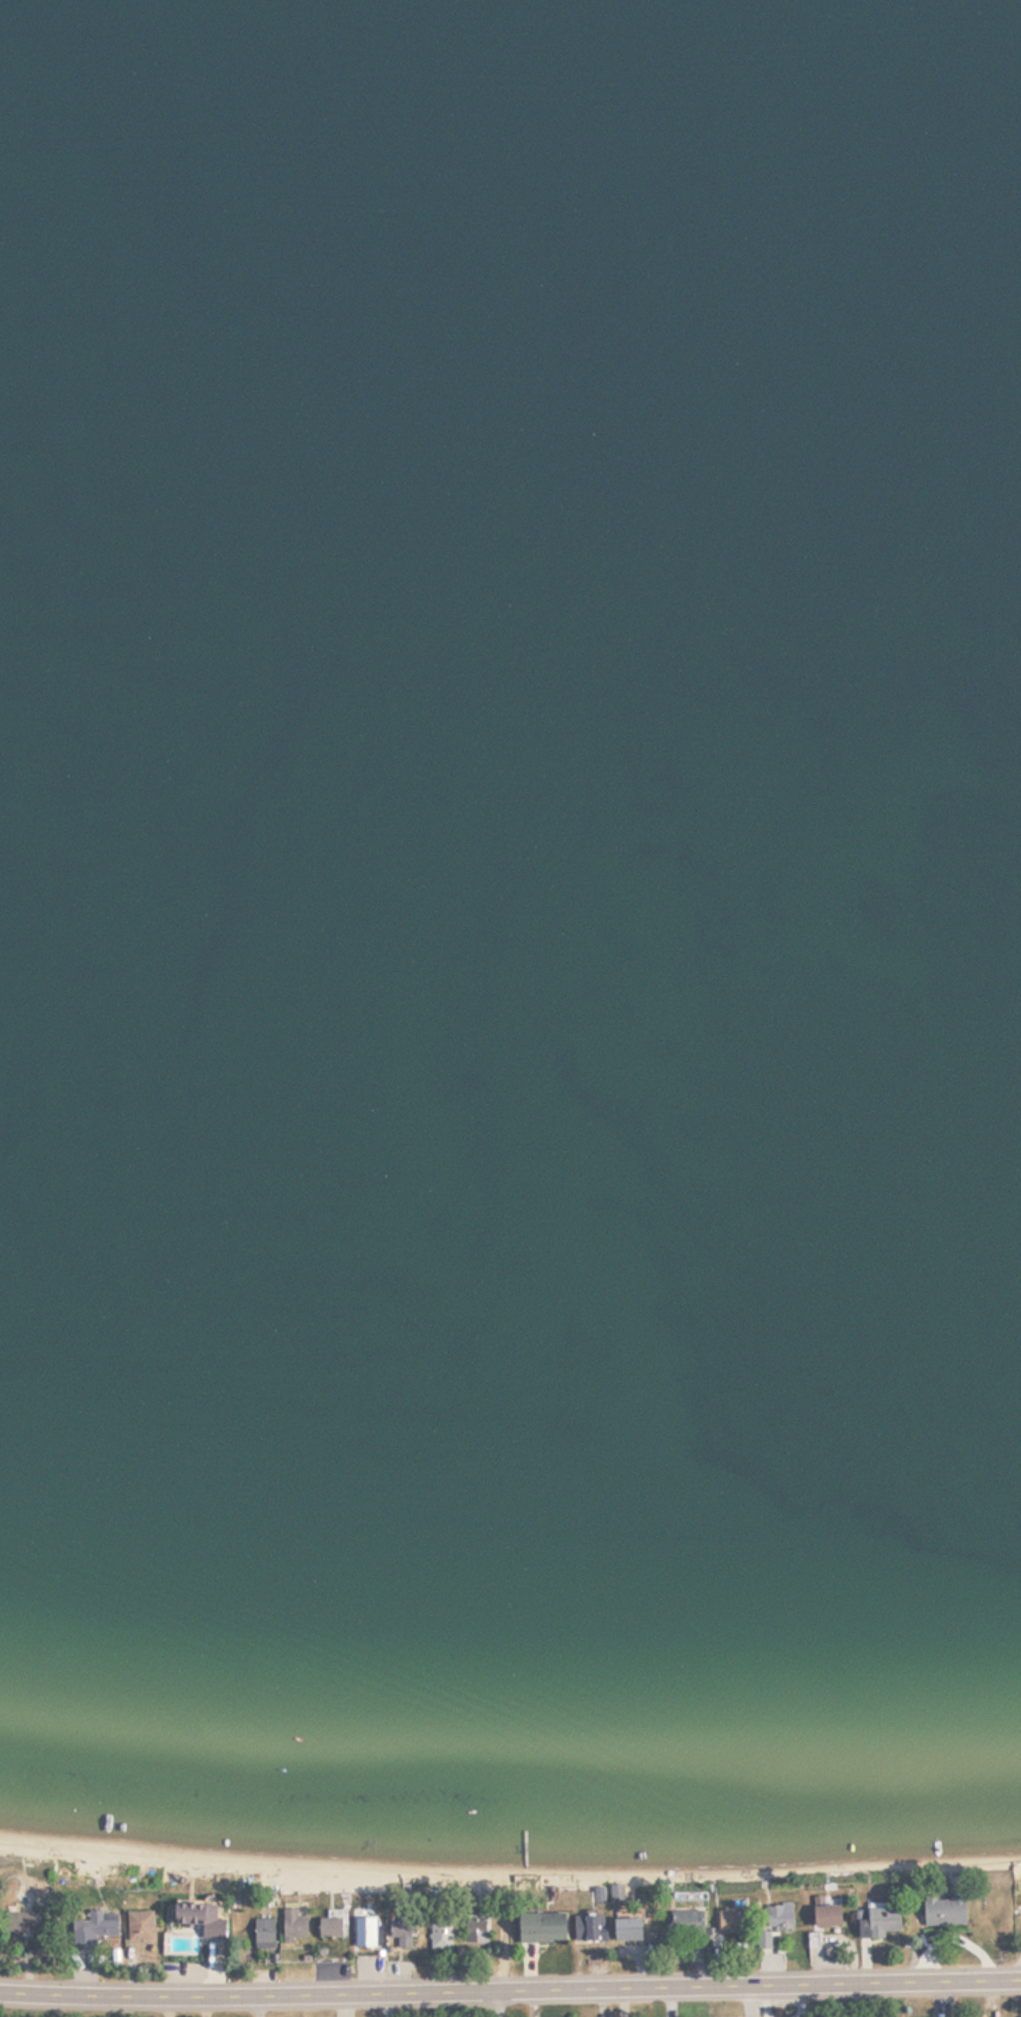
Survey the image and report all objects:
building: (942, 1912)
building: (825, 1916)
building: (778, 1917)
building: (197, 1919)
building: (24, 1922)
building: (878, 1922)
building: (731, 1923)
building: (687, 1924)
building: (140, 1925)
building: (293, 1927)
building: (331, 1927)
building: (539, 1928)
building: (589, 1929)
building: (94, 1930)
building: (626, 1930)
building: (366, 1932)
building: (477, 1933)
building: (263, 1934)
building: (441, 1935)
building: (399, 1938)
road: (510, 1988)
road: (508, 2003)
road: (268, 2005)

